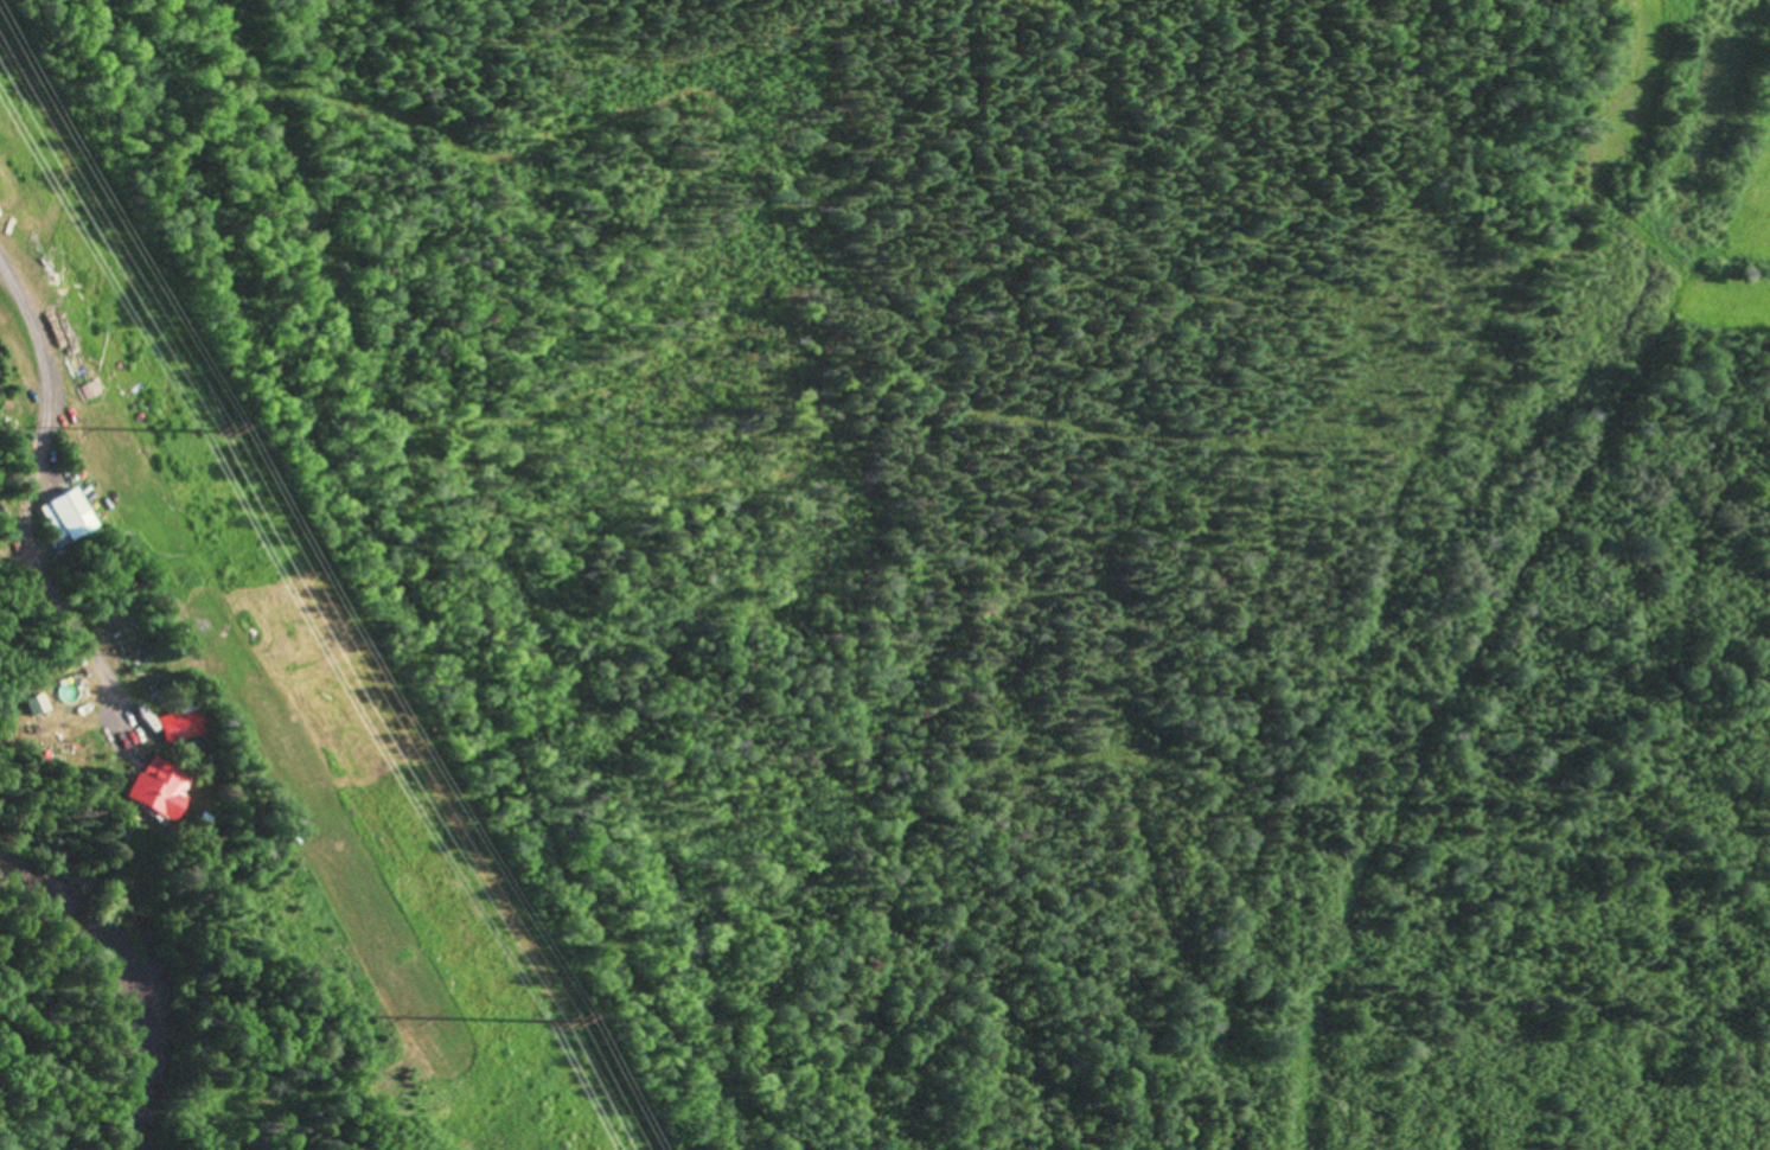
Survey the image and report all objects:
power tower: (194, 432)
building: (62, 515)
building: (27, 705)
building: (151, 791)
power tower: (536, 1022)

